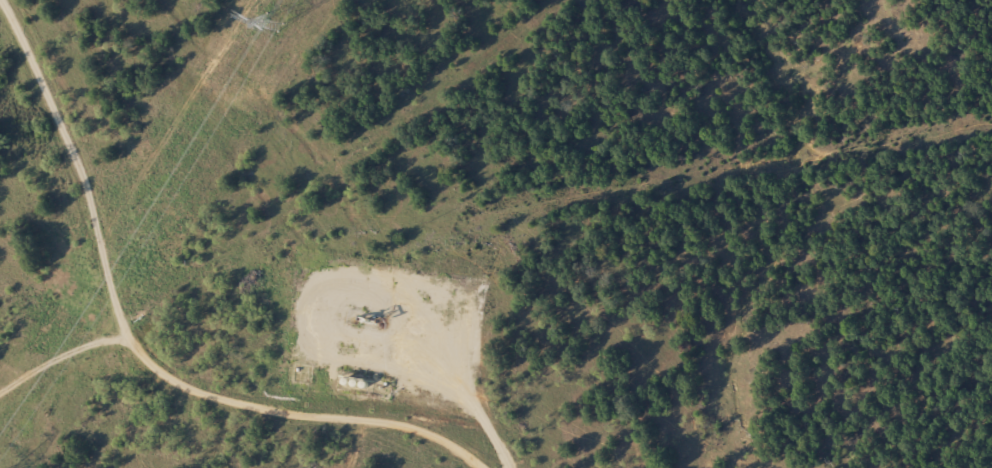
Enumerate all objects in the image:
power tower: (269, 22)
road: (48, 429)

